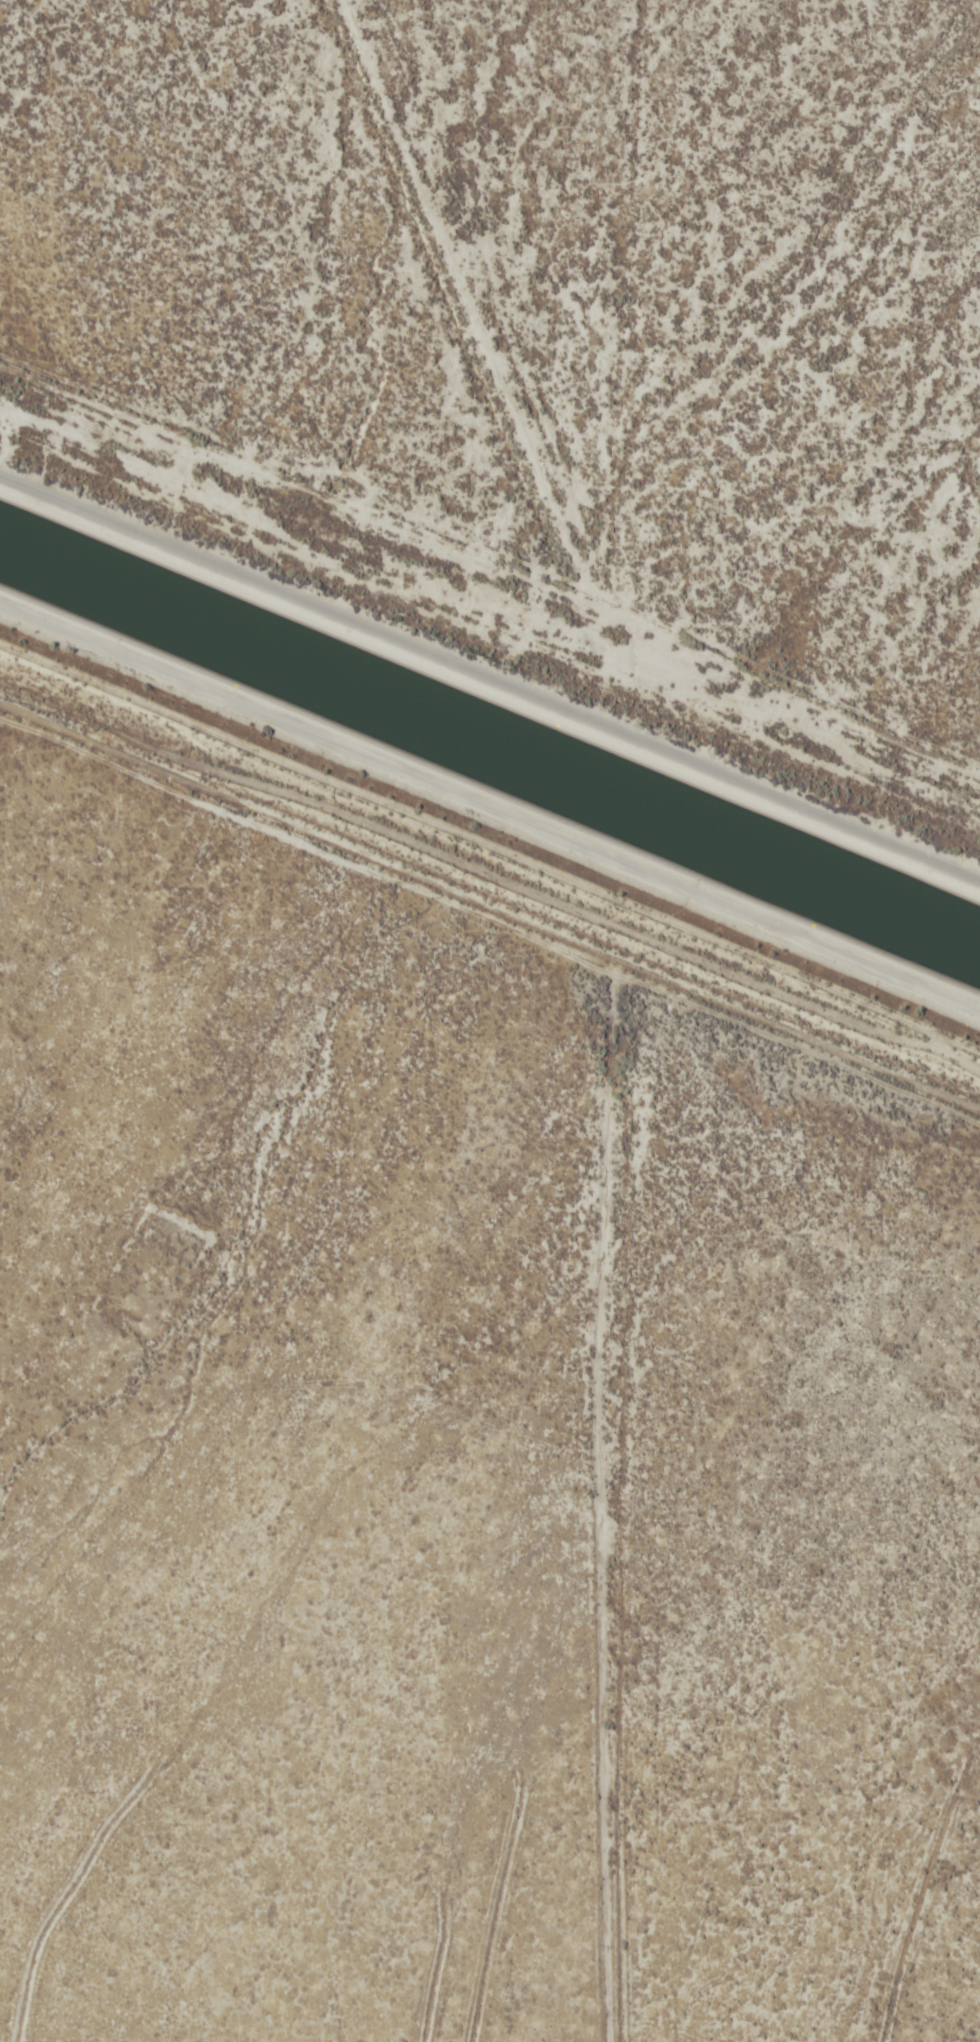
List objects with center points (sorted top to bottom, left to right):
crop: (542, 296)
road: (529, 356)
road: (489, 687)
road: (488, 876)
road: (615, 1484)

